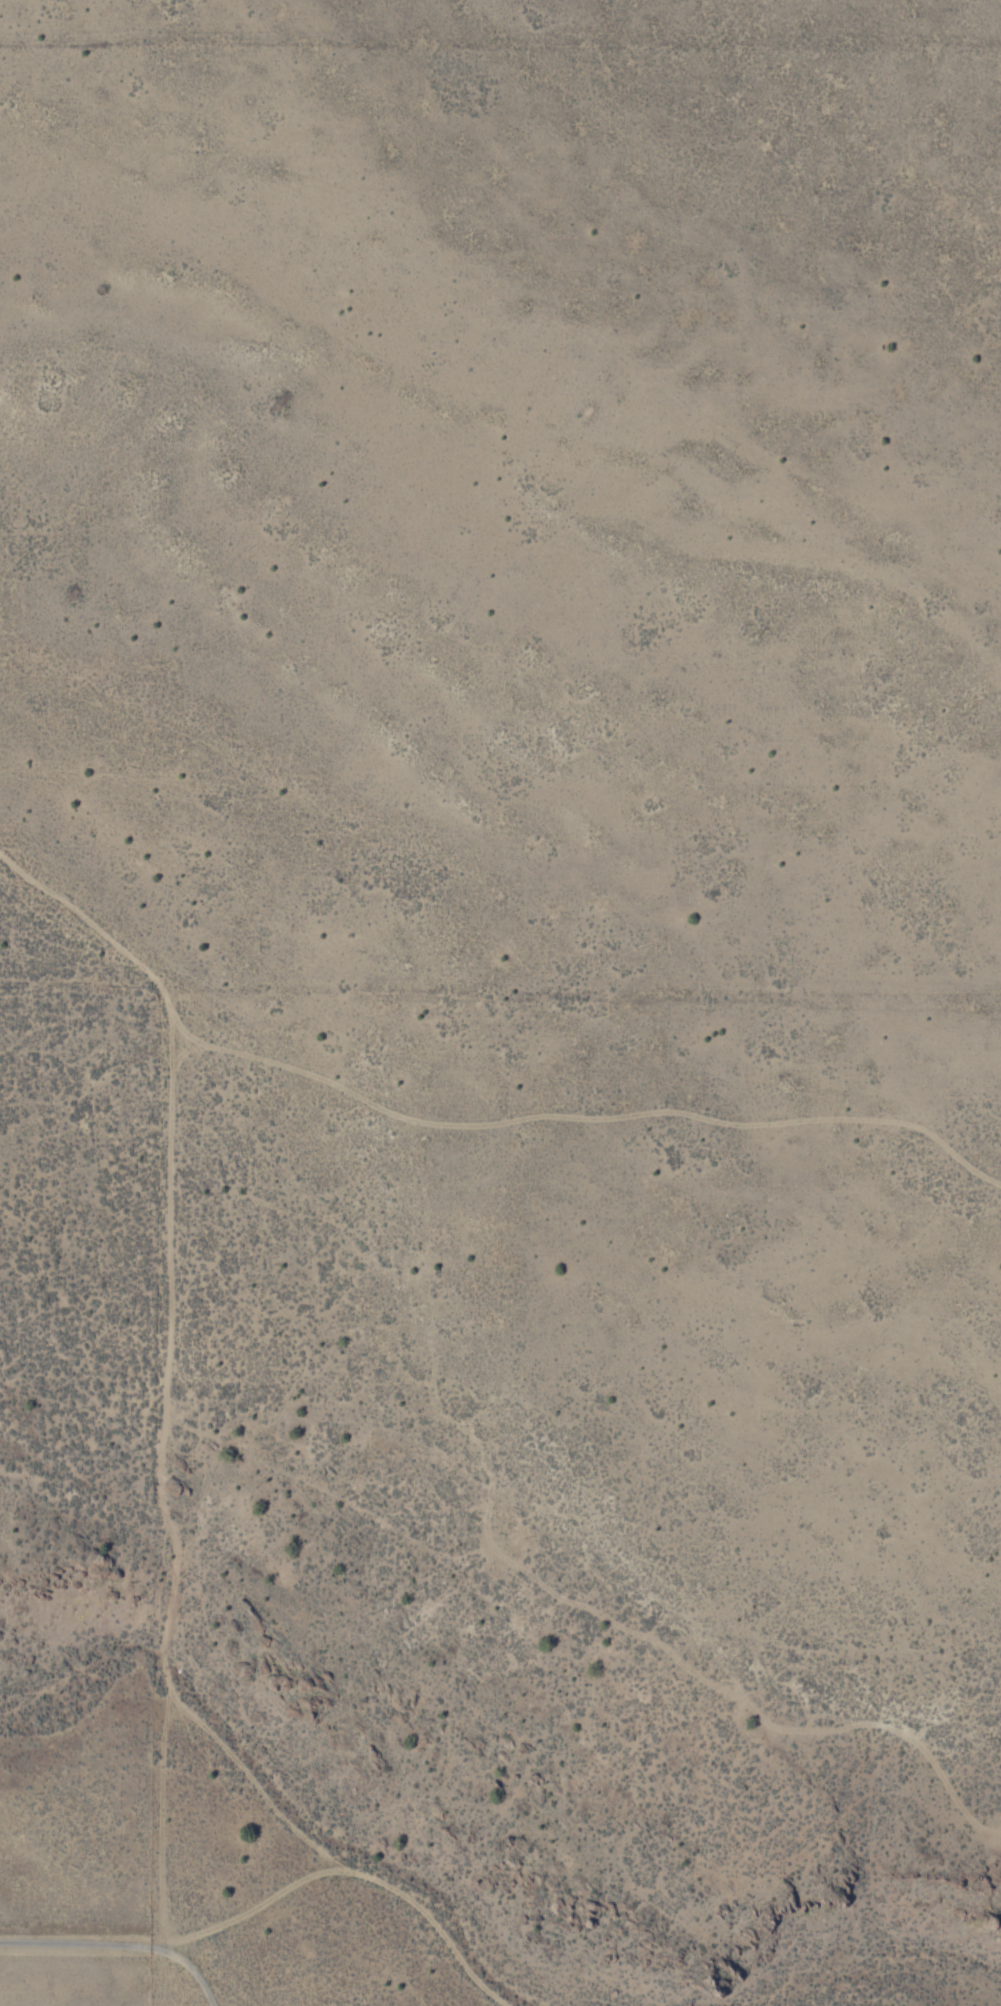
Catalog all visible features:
road: (121, 1946)
crop: (72, 1968)

